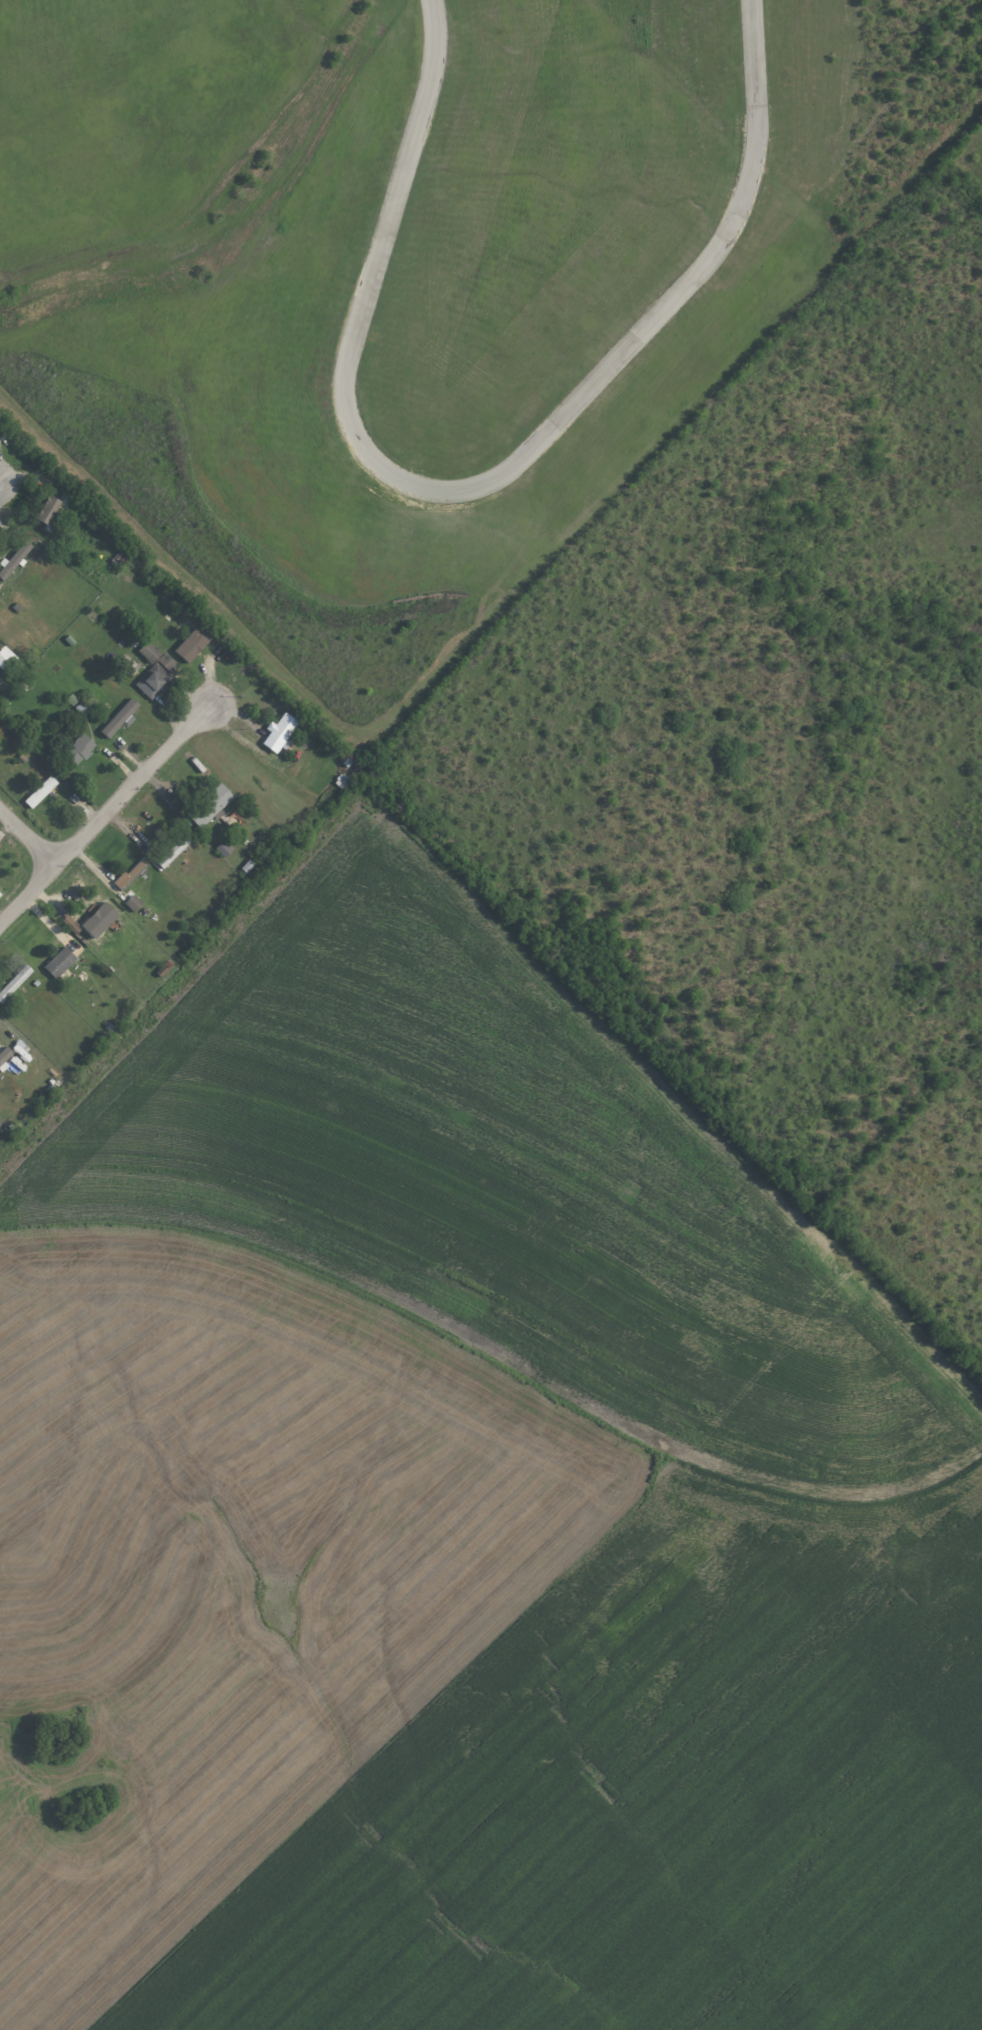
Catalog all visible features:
raceway: (477, 485)
building: (45, 510)
building: (14, 558)
building: (191, 644)
building: (149, 651)
building: (6, 659)
building: (166, 662)
building: (127, 665)
building: (153, 680)
building: (83, 707)
building: (120, 718)
building: (279, 733)
building: (79, 748)
building: (342, 781)
building: (40, 791)
building: (209, 805)
road: (107, 813)
road: (26, 843)
building: (175, 849)
building: (223, 849)
building: (131, 873)
building: (0, 894)
building: (133, 902)
building: (98, 920)
building: (72, 924)
building: (59, 962)
building: (14, 982)
building: (5, 1055)

